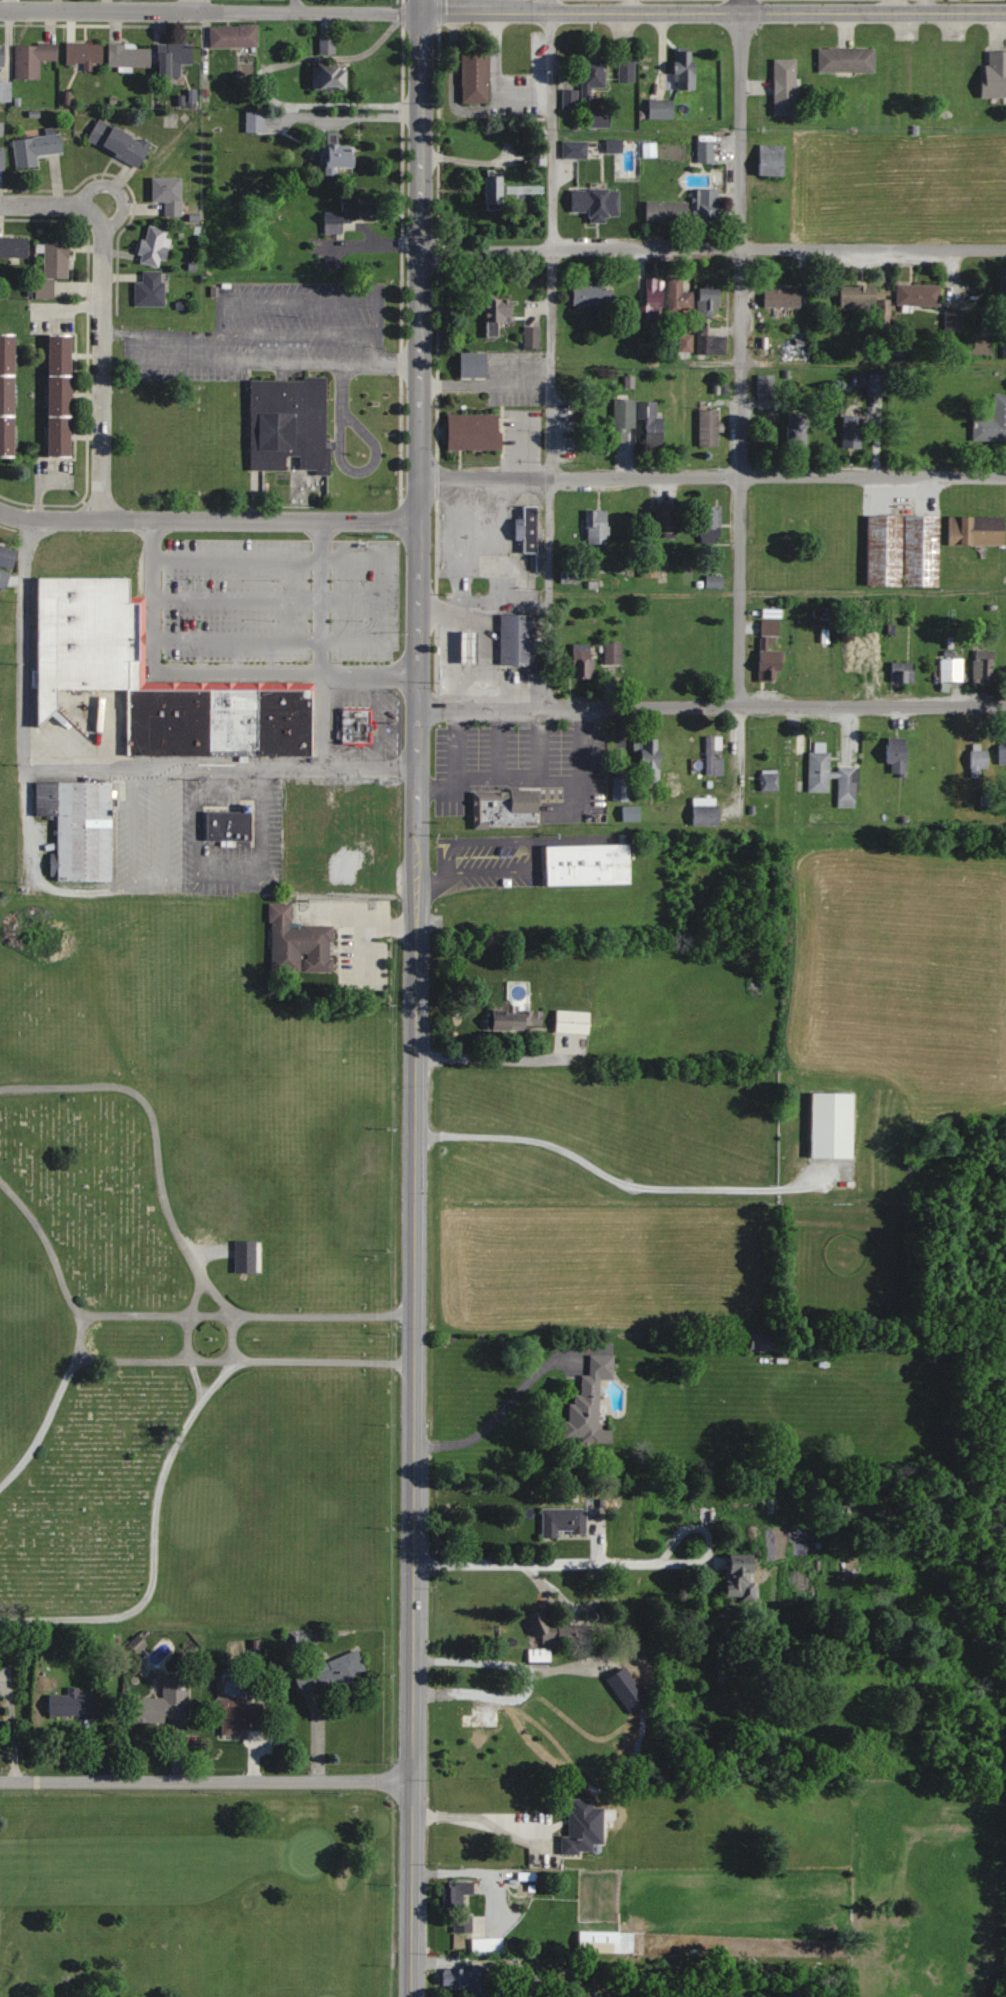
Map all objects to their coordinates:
road: (199, 4)
road: (291, 4)
road: (212, 8)
road: (715, 11)
building: (234, 36)
building: (328, 45)
building: (85, 54)
building: (2, 55)
building: (129, 56)
building: (175, 58)
building: (33, 59)
building: (847, 60)
building: (627, 70)
building: (686, 71)
building: (996, 74)
building: (593, 76)
building: (476, 77)
building: (333, 78)
building: (786, 87)
building: (5, 91)
building: (662, 109)
road: (547, 123)
building: (119, 142)
building: (36, 149)
building: (575, 150)
building: (706, 152)
building: (342, 156)
building: (2, 159)
building: (772, 160)
building: (495, 191)
building: (169, 193)
road: (46, 202)
building: (597, 203)
building: (709, 205)
building: (668, 211)
building: (349, 214)
building: (155, 244)
building: (14, 246)
road: (713, 246)
building: (57, 260)
building: (1003, 287)
building: (151, 289)
building: (43, 292)
building: (919, 294)
building: (593, 295)
building: (680, 296)
building: (783, 297)
building: (859, 297)
building: (653, 300)
building: (709, 300)
building: (499, 314)
building: (954, 318)
building: (533, 336)
building: (686, 343)
building: (710, 343)
building: (1004, 345)
road: (741, 352)
road: (258, 362)
road: (103, 363)
building: (475, 363)
building: (766, 385)
building: (8, 394)
building: (62, 394)
building: (624, 419)
road: (419, 420)
building: (290, 423)
building: (653, 423)
building: (992, 423)
building: (710, 428)
building: (475, 431)
building: (798, 432)
building: (852, 436)
road: (712, 474)
road: (549, 477)
road: (209, 518)
building: (668, 521)
building: (798, 523)
building: (598, 526)
building: (713, 528)
building: (529, 529)
building: (977, 531)
building: (782, 550)
building: (904, 550)
building: (8, 556)
building: (715, 581)
road: (388, 599)
road: (270, 600)
building: (517, 638)
building: (92, 639)
road: (321, 644)
building: (471, 645)
building: (771, 650)
building: (614, 652)
building: (583, 660)
building: (861, 663)
building: (984, 667)
building: (952, 669)
building: (1005, 670)
road: (211, 671)
building: (904, 671)
road: (712, 704)
building: (357, 726)
road: (465, 743)
road: (549, 743)
road: (505, 744)
building: (1003, 749)
building: (714, 756)
road: (739, 756)
building: (898, 756)
building: (650, 759)
building: (979, 760)
road: (95, 767)
road: (534, 780)
building: (769, 781)
building: (819, 784)
building: (621, 789)
building: (507, 810)
building: (707, 811)
building: (632, 813)
building: (229, 826)
building: (80, 828)
building: (379, 837)
building: (590, 864)
road: (361, 928)
building: (300, 944)
building: (517, 1019)
building: (574, 1021)
building: (834, 1125)
road: (628, 1184)
building: (246, 1257)
park: (191, 1277)
road: (248, 1315)
road: (79, 1332)
road: (188, 1335)
building: (765, 1342)
road: (233, 1352)
road: (245, 1362)
building: (591, 1403)
road: (504, 1409)
road: (415, 1419)
building: (564, 1522)
road: (606, 1566)
building: (744, 1581)
building: (560, 1631)
building: (539, 1655)
road: (505, 1669)
building: (332, 1674)
building: (629, 1690)
building: (166, 1702)
building: (73, 1703)
building: (241, 1716)
building: (467, 1716)
road: (10, 1729)
road: (206, 1781)
road: (477, 1823)
building: (584, 1829)
road: (474, 1872)
park: (198, 1893)
building: (453, 1895)
building: (607, 1942)
building: (465, 1977)

